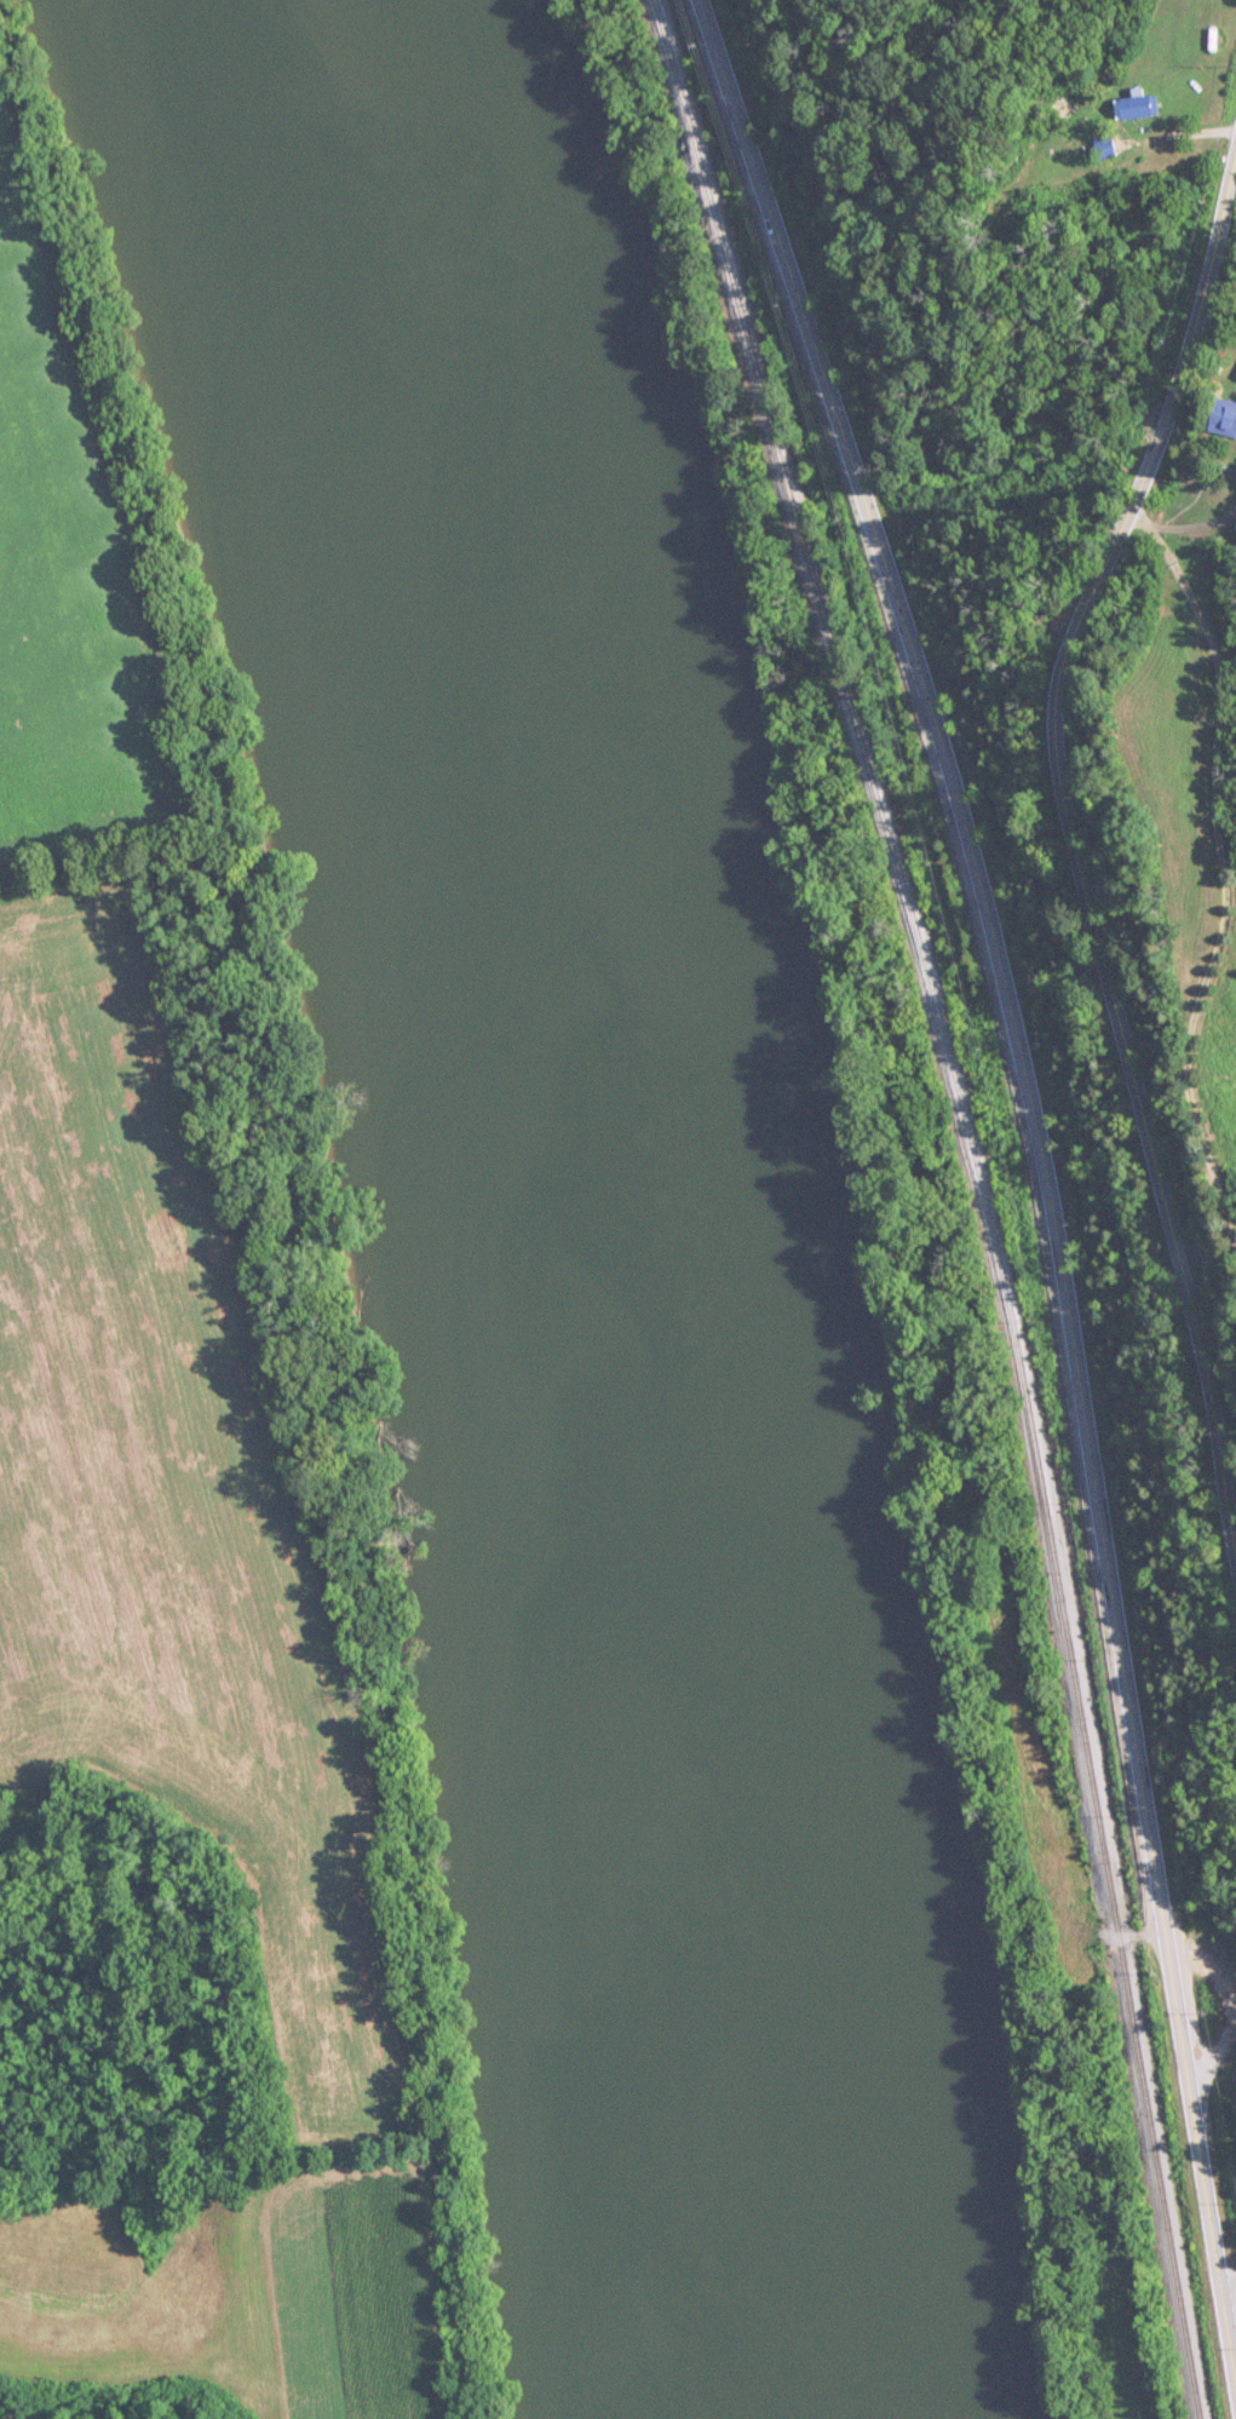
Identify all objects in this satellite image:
road: (1179, 138)
building: (1219, 419)
road: (1073, 850)
road: (1221, 869)
road: (1046, 1162)
river: (579, 1196)
railway: (976, 1199)
road: (44, 1719)
road: (1232, 2316)

